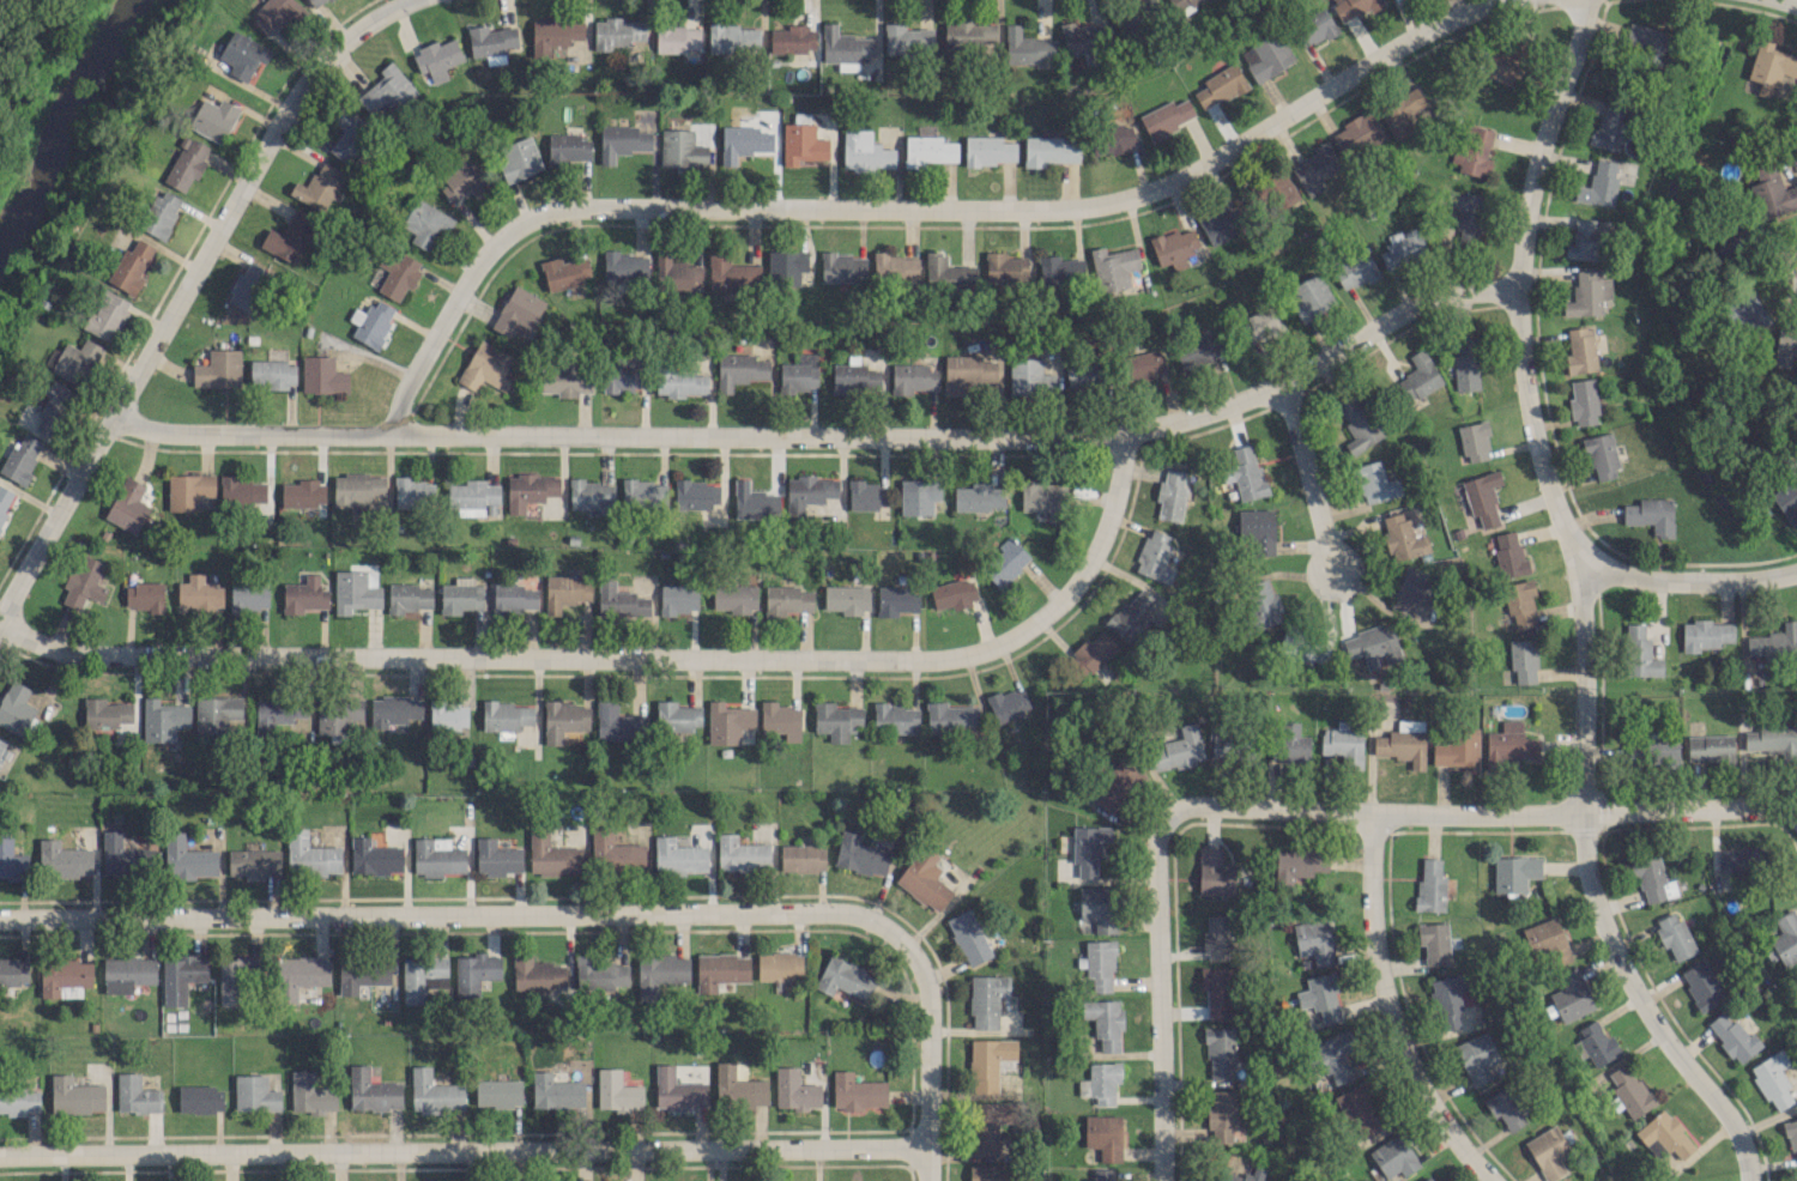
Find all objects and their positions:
road: (1792, 0)
building: (315, 2)
building: (1182, 4)
building: (1354, 7)
building: (277, 13)
building: (1138, 18)
building: (1313, 28)
building: (617, 32)
building: (553, 34)
building: (966, 35)
building: (733, 37)
building: (788, 38)
building: (677, 40)
building: (907, 40)
building: (1082, 41)
building: (490, 42)
building: (1651, 46)
building: (1027, 47)
building: (845, 48)
building: (243, 54)
building: (1266, 56)
building: (437, 59)
building: (1506, 61)
building: (1771, 63)
building: (1220, 85)
building: (387, 90)
building: (1166, 117)
building: (213, 119)
river: (69, 122)
building: (1610, 126)
building: (347, 132)
building: (1356, 134)
building: (1112, 139)
building: (623, 141)
building: (743, 141)
building: (801, 144)
building: (569, 147)
building: (680, 149)
building: (927, 150)
building: (987, 150)
building: (865, 151)
building: (1048, 151)
building: (1472, 151)
building: (518, 158)
building: (186, 163)
building: (1313, 169)
building: (465, 181)
building: (1598, 184)
building: (317, 186)
building: (1270, 189)
road: (909, 207)
building: (161, 214)
building: (1466, 216)
building: (425, 224)
building: (1221, 224)
building: (289, 237)
building: (1589, 241)
building: (1174, 247)
building: (1403, 248)
building: (131, 266)
building: (625, 266)
building: (786, 266)
building: (896, 266)
building: (843, 267)
building: (1005, 267)
building: (1113, 267)
building: (1060, 271)
building: (1355, 271)
building: (564, 272)
building: (397, 274)
building: (677, 274)
building: (731, 274)
building: (946, 274)
building: (248, 286)
road: (183, 289)
building: (1587, 293)
building: (1311, 297)
building: (518, 310)
building: (105, 315)
building: (371, 322)
building: (1265, 323)
building: (1580, 350)
building: (1199, 351)
building: (77, 361)
building: (1468, 362)
building: (1145, 364)
building: (486, 367)
building: (218, 369)
building: (739, 370)
building: (968, 371)
building: (272, 373)
building: (799, 373)
building: (322, 375)
building: (623, 375)
building: (1082, 375)
building: (1420, 375)
building: (854, 377)
building: (1029, 377)
building: (565, 378)
building: (913, 378)
building: (680, 382)
building: (1583, 401)
road: (1526, 405)
building: (54, 407)
building: (1360, 420)
road: (828, 437)
building: (1475, 441)
building: (1601, 455)
building: (22, 458)
building: (1245, 472)
road: (1306, 478)
building: (1375, 482)
building: (188, 490)
building: (357, 490)
building: (530, 490)
building: (243, 491)
building: (807, 491)
building: (303, 493)
building: (413, 493)
building: (645, 493)
building: (696, 493)
building: (1170, 493)
building: (866, 495)
building: (472, 496)
building: (591, 496)
building: (918, 496)
building: (978, 496)
building: (1482, 497)
building: (1043, 499)
building: (5, 501)
building: (754, 501)
building: (1786, 501)
building: (127, 505)
building: (1651, 515)
building: (1257, 529)
building: (1403, 537)
building: (1509, 553)
building: (1155, 556)
building: (1005, 562)
road: (1680, 580)
building: (84, 582)
building: (1418, 583)
building: (356, 590)
building: (565, 592)
building: (199, 593)
building: (954, 594)
building: (144, 595)
building: (303, 595)
building: (460, 595)
building: (248, 596)
building: (409, 596)
building: (514, 596)
building: (734, 598)
building: (619, 600)
building: (786, 600)
building: (896, 600)
building: (1254, 602)
building: (1519, 602)
building: (1132, 614)
building: (1345, 619)
building: (1705, 635)
building: (1371, 646)
building: (1301, 647)
building: (1640, 650)
building: (1091, 652)
road: (627, 659)
building: (1523, 661)
building: (1009, 704)
building: (16, 708)
building: (394, 709)
building: (105, 713)
building: (216, 713)
building: (277, 713)
building: (337, 715)
building: (448, 715)
building: (506, 715)
building: (950, 715)
building: (677, 716)
building: (896, 717)
building: (162, 719)
building: (564, 720)
building: (780, 720)
building: (836, 720)
building: (727, 722)
building: (618, 723)
building: (1767, 737)
building: (1403, 743)
building: (1222, 744)
building: (1289, 744)
building: (1343, 744)
building: (1508, 744)
building: (1710, 747)
building: (4, 749)
building: (1180, 749)
building: (1458, 749)
building: (1668, 752)
building: (1638, 753)
building: (1117, 786)
road: (1475, 813)
road: (1793, 817)
building: (1088, 848)
building: (615, 849)
building: (742, 854)
building: (859, 854)
building: (123, 855)
building: (310, 855)
building: (552, 856)
building: (678, 856)
building: (374, 858)
building: (436, 858)
building: (497, 858)
building: (801, 858)
building: (187, 859)
building: (1738, 859)
building: (11, 860)
building: (63, 860)
building: (254, 862)
building: (1296, 864)
building: (1514, 872)
building: (1215, 873)
building: (925, 879)
building: (1652, 879)
building: (1430, 885)
building: (1099, 908)
road: (450, 915)
building: (1674, 935)
building: (968, 937)
building: (1217, 937)
building: (1784, 938)
building: (1314, 940)
building: (1433, 943)
building: (1100, 964)
building: (779, 965)
building: (720, 970)
building: (13, 971)
building: (241, 971)
building: (474, 971)
building: (660, 973)
building: (127, 974)
building: (362, 974)
building: (537, 974)
building: (601, 974)
building: (299, 975)
building: (422, 976)
building: (65, 977)
building: (845, 977)
building: (181, 979)
building: (1700, 985)
building: (1218, 992)
building: (1320, 995)
building: (1571, 995)
road: (1157, 998)
building: (986, 999)
building: (1447, 1000)
road: (1642, 1006)
road: (1387, 1010)
building: (1105, 1022)
building: (1734, 1036)
building: (1596, 1043)
building: (1218, 1050)
road: (928, 1053)
building: (1332, 1056)
building: (1476, 1056)
building: (988, 1062)
building: (1772, 1079)
building: (1101, 1082)
building: (738, 1088)
building: (678, 1090)
building: (794, 1090)
building: (1628, 1090)
building: (371, 1091)
building: (556, 1091)
building: (617, 1091)
building: (857, 1091)
building: (434, 1092)
building: (497, 1092)
building: (255, 1094)
building: (310, 1094)
building: (75, 1095)
building: (135, 1095)
building: (200, 1098)
building: (19, 1101)
building: (1506, 1107)
building: (1360, 1112)
building: (1222, 1115)
building: (988, 1125)
building: (1666, 1133)
building: (1103, 1135)
building: (1792, 1137)
road: (462, 1150)
building: (1548, 1151)
building: (1393, 1156)
building: (987, 1173)
building: (1102, 1174)
building: (1246, 1176)
building: (1795, 1177)
building: (1429, 1179)

